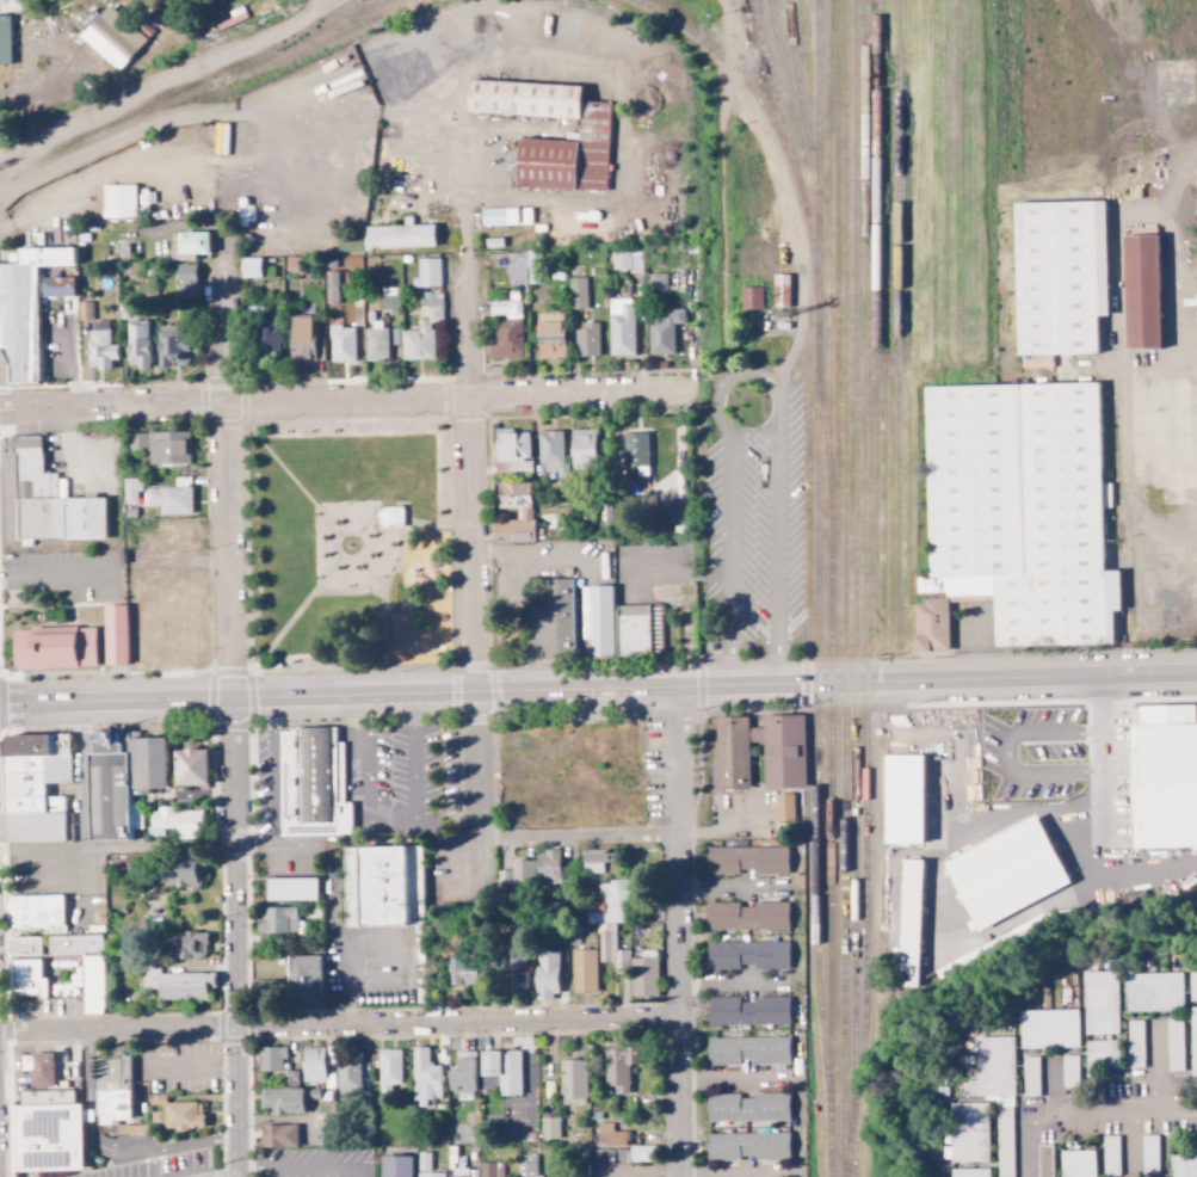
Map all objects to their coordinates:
railway: (395, 8)
railway: (397, 8)
railway: (1087, 24)
building: (113, 36)
railway: (296, 36)
building: (4, 39)
railway: (284, 61)
railway: (778, 66)
railway: (192, 92)
building: (1173, 92)
railway: (773, 93)
railway: (795, 97)
building: (532, 100)
railway: (1002, 109)
railway: (277, 111)
railway: (761, 115)
railway: (813, 143)
building: (605, 149)
building: (555, 167)
railway: (954, 178)
railway: (928, 179)
railway: (940, 179)
building: (118, 201)
building: (506, 216)
building: (399, 235)
building: (192, 242)
building: (625, 260)
railway: (828, 264)
building: (249, 266)
building: (426, 272)
building: (1057, 277)
building: (185, 281)
building: (656, 281)
building: (780, 290)
building: (60, 291)
building: (576, 292)
building: (1147, 292)
building: (390, 298)
building: (751, 298)
building: (431, 306)
building: (24, 308)
building: (85, 310)
railway: (894, 323)
railway: (874, 325)
building: (621, 326)
building: (505, 329)
building: (664, 331)
building: (550, 334)
building: (264, 335)
building: (135, 338)
building: (301, 339)
building: (586, 340)
building: (375, 341)
building: (341, 343)
building: (418, 343)
building: (172, 345)
building: (100, 346)
road: (738, 365)
road: (346, 402)
building: (160, 445)
railway: (820, 448)
building: (581, 449)
building: (511, 450)
building: (551, 452)
building: (635, 454)
road: (232, 470)
road: (300, 485)
building: (130, 489)
building: (169, 497)
building: (49, 499)
building: (673, 512)
building: (523, 513)
building: (1024, 516)
road: (400, 519)
building: (175, 534)
road: (477, 547)
park: (345, 551)
railway: (851, 565)
road: (310, 575)
road: (55, 577)
railway: (840, 588)
railway: (862, 588)
railway: (827, 605)
building: (597, 620)
building: (551, 621)
building: (174, 627)
building: (633, 628)
building: (115, 634)
building: (53, 647)
road: (598, 690)
railway: (812, 694)
railway: (819, 709)
building: (24, 745)
building: (55, 745)
building: (190, 766)
building: (785, 766)
building: (1161, 774)
building: (110, 776)
parking lot: (394, 777)
building: (313, 781)
building: (903, 799)
building: (784, 807)
road: (390, 815)
building: (174, 821)
road: (461, 840)
road: (121, 849)
building: (596, 859)
building: (747, 859)
building: (547, 865)
building: (178, 873)
building: (1005, 873)
building: (522, 874)
building: (382, 886)
building: (290, 889)
building: (35, 912)
building: (747, 916)
building: (613, 919)
building: (277, 920)
building: (909, 923)
railway: (827, 930)
road: (684, 931)
road: (241, 937)
building: (23, 945)
building: (181, 945)
building: (747, 955)
building: (82, 966)
building: (462, 970)
building: (584, 970)
building: (518, 973)
building: (545, 974)
building: (643, 978)
building: (24, 979)
building: (304, 979)
building: (175, 984)
building: (1192, 984)
building: (1153, 992)
building: (1100, 1003)
building: (747, 1010)
road: (341, 1025)
building: (1049, 1029)
building: (1193, 1040)
building: (1135, 1043)
building: (1174, 1044)
building: (747, 1050)
building: (1102, 1054)
building: (271, 1058)
building: (313, 1065)
building: (618, 1065)
building: (37, 1068)
road: (195, 1068)
building: (388, 1070)
building: (502, 1070)
building: (1069, 1072)
building: (347, 1076)
building: (463, 1076)
building: (1030, 1076)
building: (425, 1077)
building: (573, 1082)
building: (997, 1093)
building: (310, 1095)
building: (282, 1101)
building: (747, 1108)
road: (1139, 1111)
building: (183, 1115)
building: (549, 1128)
building: (43, 1133)
building: (967, 1133)
building: (278, 1135)
building: (610, 1135)
building: (747, 1146)
road: (111, 1150)
building: (643, 1153)
building: (1076, 1164)
building: (1183, 1165)
building: (395, 1166)
building: (526, 1166)
road: (308, 1167)
building: (426, 1169)
building: (490, 1169)
road: (226, 1172)
building: (969, 1172)

